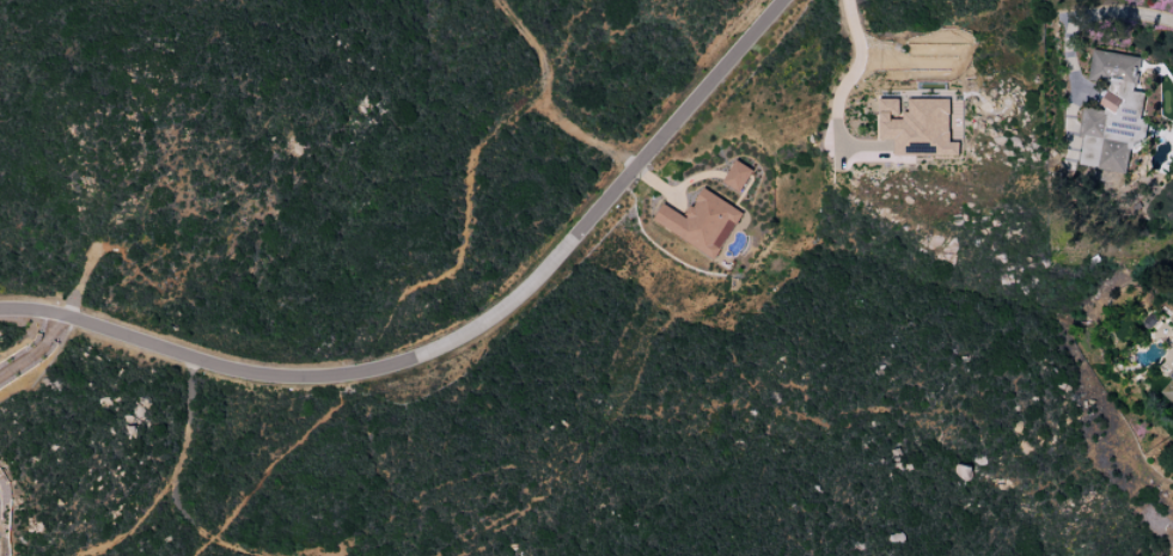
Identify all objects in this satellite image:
road: (1101, 12)
road: (854, 62)
road: (540, 102)
building: (1113, 111)
building: (917, 127)
building: (737, 176)
building: (701, 222)
building: (1172, 328)
road: (456, 338)
road: (33, 352)
building: (1167, 390)
road: (169, 477)

